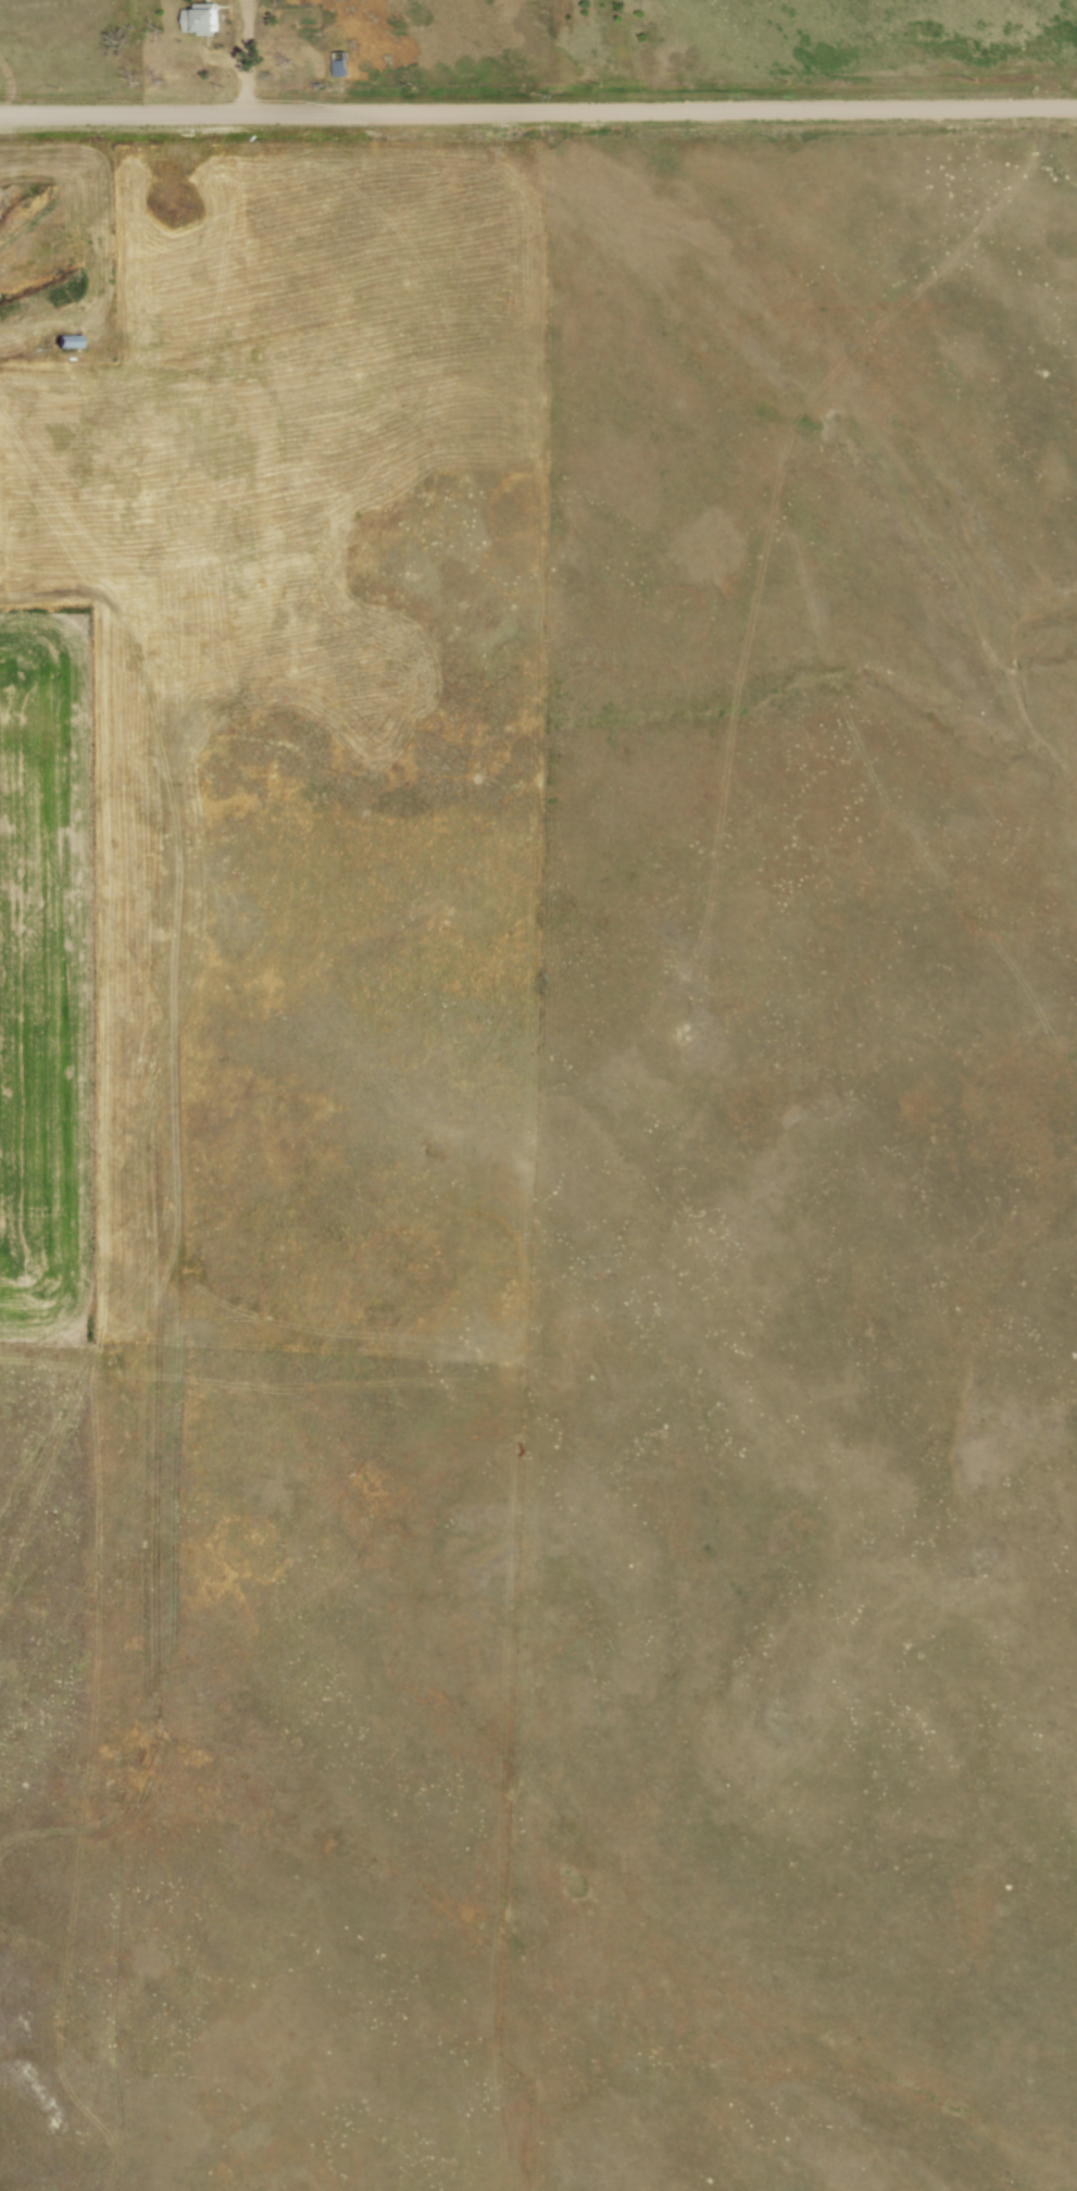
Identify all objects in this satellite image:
building: (206, 18)
road: (211, 53)
building: (341, 63)
road: (538, 110)
building: (72, 340)
crop: (47, 971)

